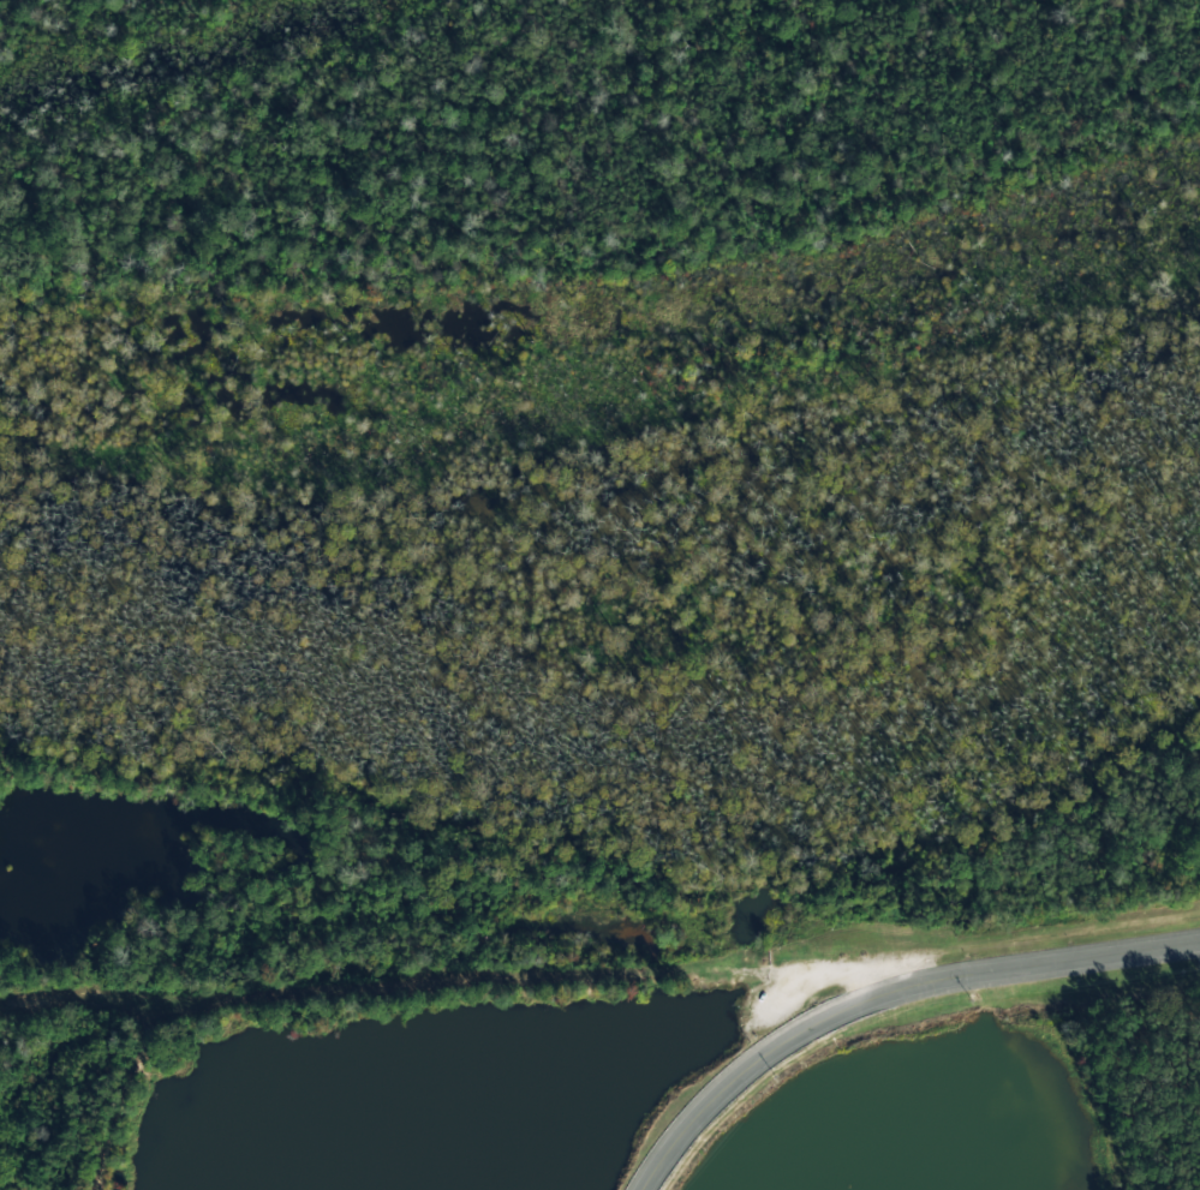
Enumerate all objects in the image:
road: (895, 993)

